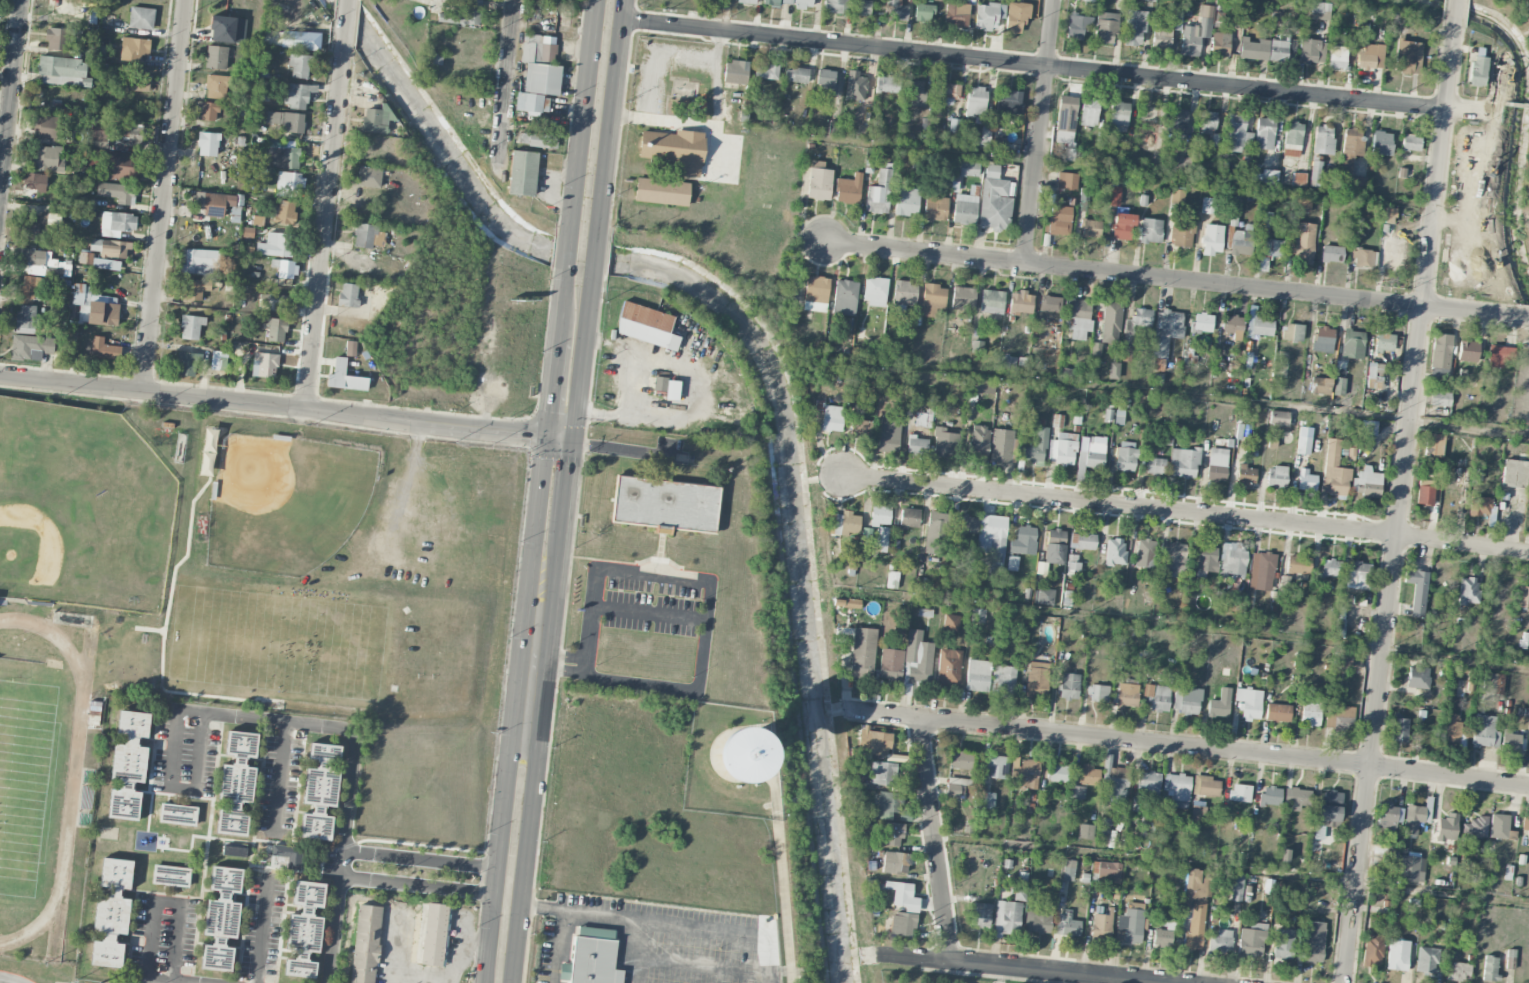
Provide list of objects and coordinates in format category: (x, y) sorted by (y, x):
building: (1149, 0)
building: (745, 1)
building: (775, 2)
building: (803, 4)
building: (835, 6)
road: (1510, 7)
building: (862, 8)
road: (1457, 9)
building: (895, 10)
building: (1320, 11)
building: (924, 13)
building: (956, 13)
road: (1411, 13)
building: (466, 14)
building: (988, 16)
building: (1016, 16)
building: (141, 18)
building: (563, 18)
road: (345, 19)
building: (1077, 27)
building: (1134, 27)
building: (1105, 28)
building: (227, 29)
building: (1197, 32)
building: (1162, 35)
building: (57, 39)
building: (300, 40)
building: (1220, 44)
building: (134, 48)
building: (538, 49)
building: (1253, 49)
building: (1279, 49)
building: (1311, 51)
building: (216, 57)
building: (1337, 57)
building: (1371, 57)
building: (1408, 57)
building: (299, 65)
building: (1478, 67)
road: (1061, 68)
building: (63, 71)
building: (766, 71)
building: (736, 72)
building: (796, 75)
building: (541, 79)
building: (826, 80)
building: (136, 81)
road: (506, 82)
building: (887, 84)
building: (216, 86)
building: (855, 86)
building: (915, 90)
building: (947, 93)
road: (10, 94)
building: (298, 95)
building: (976, 101)
building: (1009, 101)
building: (532, 103)
building: (206, 111)
building: (1089, 112)
building: (1119, 116)
building: (374, 121)
building: (1177, 121)
building: (1207, 121)
building: (293, 123)
building: (1066, 123)
building: (45, 127)
building: (123, 130)
road: (1040, 132)
building: (1264, 133)
building: (1238, 134)
building: (99, 136)
building: (985, 137)
building: (1000, 138)
building: (1292, 139)
building: (537, 140)
building: (1216, 140)
building: (1323, 140)
building: (1381, 143)
building: (1410, 143)
building: (208, 144)
building: (675, 150)
building: (281, 156)
building: (48, 158)
road: (1026, 161)
building: (1351, 161)
building: (122, 167)
building: (969, 168)
road: (576, 171)
building: (522, 173)
building: (1315, 174)
building: (368, 177)
building: (1265, 177)
building: (1298, 179)
building: (819, 181)
building: (1067, 181)
building: (36, 182)
building: (289, 184)
building: (849, 189)
building: (116, 192)
building: (662, 192)
building: (879, 193)
road: (163, 196)
building: (1115, 196)
building: (1177, 200)
building: (907, 201)
building: (996, 202)
building: (215, 203)
building: (1209, 205)
building: (1302, 205)
building: (935, 208)
building: (964, 209)
building: (284, 213)
building: (1060, 220)
road: (599, 221)
building: (117, 224)
road: (324, 224)
building: (1122, 224)
building: (37, 226)
building: (1091, 228)
building: (1150, 230)
building: (368, 236)
building: (1182, 236)
building: (1212, 239)
building: (1302, 241)
building: (1241, 242)
building: (274, 245)
building: (1272, 248)
building: (110, 249)
road: (925, 254)
building: (1332, 254)
building: (1394, 254)
building: (1363, 258)
building: (199, 262)
building: (38, 263)
building: (106, 264)
building: (1260, 264)
building: (285, 268)
road: (1224, 285)
building: (27, 289)
building: (194, 289)
building: (875, 291)
building: (816, 294)
building: (905, 294)
building: (348, 295)
building: (845, 298)
building: (933, 299)
building: (963, 299)
building: (274, 302)
building: (992, 302)
building: (1021, 303)
building: (1049, 304)
road: (1469, 310)
road: (1522, 315)
building: (1078, 317)
building: (26, 319)
building: (1111, 322)
building: (1137, 322)
building: (1202, 322)
building: (191, 326)
building: (646, 326)
building: (1234, 326)
building: (1260, 326)
building: (276, 330)
building: (1166, 330)
building: (1292, 332)
building: (1322, 339)
building: (1384, 341)
building: (1352, 344)
building: (29, 346)
building: (351, 348)
building: (104, 349)
building: (1468, 351)
building: (1440, 356)
building: (1499, 356)
building: (218, 360)
building: (1008, 363)
building: (187, 364)
building: (1158, 364)
building: (264, 365)
building: (1113, 370)
building: (1375, 370)
building: (344, 377)
building: (1320, 386)
building: (1338, 386)
building: (667, 388)
road: (551, 390)
road: (1174, 393)
building: (1440, 399)
road: (273, 406)
building: (1118, 417)
building: (832, 418)
building: (1278, 418)
building: (923, 420)
building: (1057, 421)
building: (860, 427)
building: (1368, 428)
building: (889, 435)
traffic signals: (546, 438)
road: (559, 440)
building: (978, 440)
traffic signals: (573, 442)
building: (944, 443)
building: (1303, 445)
building: (1434, 445)
building: (916, 446)
building: (1001, 446)
building: (1034, 448)
building: (1062, 449)
building: (1126, 456)
building: (1184, 463)
building: (1217, 464)
building: (1155, 466)
building: (207, 468)
building: (1334, 470)
building: (1515, 473)
building: (1245, 474)
building: (1276, 477)
building: (1305, 481)
building: (1368, 482)
building: (1425, 492)
road: (1401, 500)
building: (665, 505)
building: (1480, 506)
park: (81, 509)
road: (1185, 511)
building: (880, 514)
road: (536, 516)
building: (909, 518)
road: (563, 520)
building: (844, 523)
building: (966, 524)
building: (936, 533)
building: (993, 537)
building: (882, 539)
building: (1023, 541)
building: (1086, 541)
building: (1055, 546)
building: (1115, 551)
building: (1145, 553)
building: (1173, 559)
building: (1206, 559)
building: (1232, 560)
building: (1073, 562)
building: (1298, 564)
building: (1331, 568)
building: (1261, 571)
building: (1357, 575)
building: (892, 580)
building: (977, 581)
building: (1417, 591)
building: (1468, 591)
road: (710, 593)
building: (1043, 597)
building: (1523, 597)
road: (650, 613)
building: (978, 615)
building: (1340, 622)
building: (951, 623)
road: (1182, 625)
building: (862, 653)
building: (1346, 656)
building: (917, 658)
road: (534, 664)
building: (890, 664)
road: (587, 665)
building: (949, 668)
building: (978, 675)
building: (1418, 677)
building: (1005, 680)
building: (1037, 680)
building: (1493, 683)
building: (1069, 686)
building: (1098, 693)
building: (1126, 695)
building: (1158, 697)
building: (1186, 700)
building: (1249, 703)
building: (1219, 704)
building: (1278, 712)
road: (240, 715)
building: (1310, 715)
building: (1339, 717)
building: (133, 724)
building: (1452, 728)
building: (1399, 729)
building: (1484, 732)
track: (78, 734)
building: (1510, 741)
building: (878, 743)
building: (241, 744)
road: (1187, 746)
building: (1528, 750)
water tower: (741, 753)
building: (960, 760)
building: (129, 761)
building: (996, 766)
building: (1058, 772)
building: (881, 773)
building: (1028, 774)
road: (279, 775)
building: (1089, 775)
building: (322, 776)
building: (237, 782)
building: (1116, 785)
park: (26, 786)
building: (957, 786)
building: (1147, 786)
building: (1206, 786)
building: (1177, 789)
power tower: (311, 793)
building: (1240, 793)
building: (1270, 796)
building: (1297, 797)
building: (986, 800)
building: (124, 802)
building: (888, 804)
building: (1329, 809)
building: (178, 814)
building: (1389, 815)
building: (1413, 819)
building: (232, 820)
building: (316, 825)
building: (1103, 826)
building: (1498, 826)
building: (1525, 826)
building: (1475, 827)
building: (1447, 828)
building: (1085, 831)
building: (893, 834)
road: (936, 840)
building: (234, 851)
road: (498, 856)
building: (1376, 857)
road: (527, 858)
building: (285, 860)
building: (896, 863)
road: (1232, 867)
building: (1410, 868)
building: (1069, 870)
building: (1108, 871)
track: (62, 874)
building: (171, 876)
road: (490, 876)
building: (1235, 888)
road: (472, 889)
building: (903, 895)
building: (113, 896)
road: (168, 903)
road: (784, 906)
building: (1195, 906)
building: (980, 914)
building: (1007, 918)
building: (221, 919)
building: (1037, 919)
road: (666, 922)
road: (333, 923)
building: (905, 924)
building: (1130, 924)
building: (1067, 925)
building: (1101, 927)
building: (304, 929)
road: (263, 931)
building: (434, 934)
building: (1162, 938)
building: (1252, 940)
building: (1220, 941)
building: (1312, 941)
building: (365, 944)
building: (1283, 944)
road: (456, 945)
road: (556, 946)
building: (1373, 949)
road: (639, 951)
building: (107, 952)
building: (1398, 955)
building: (593, 956)
building: (1510, 958)
building: (1427, 960)
road: (704, 966)
building: (1490, 968)
road: (1011, 969)
road: (779, 971)
building: (1460, 971)
road: (169, 980)
road: (6, 982)

